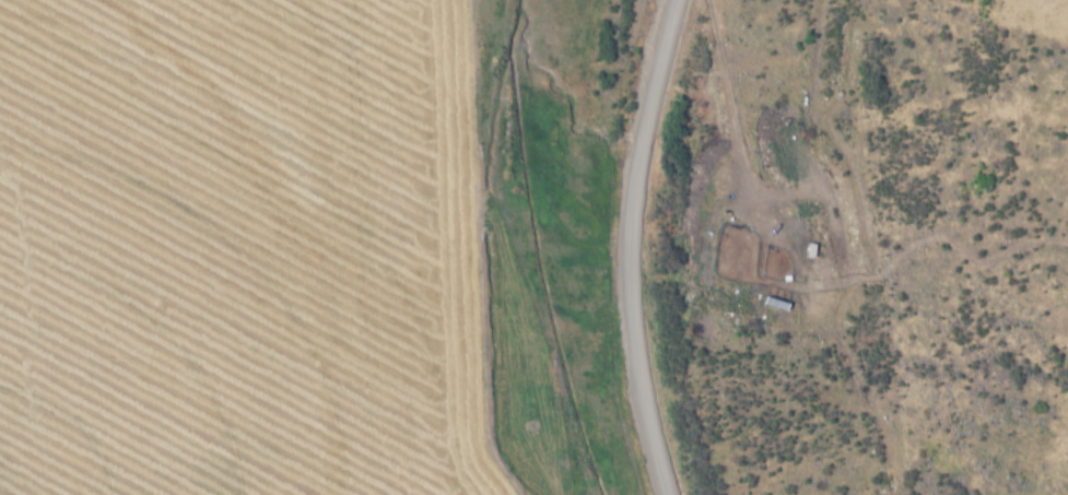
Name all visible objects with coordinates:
road: (647, 245)
building: (740, 274)

